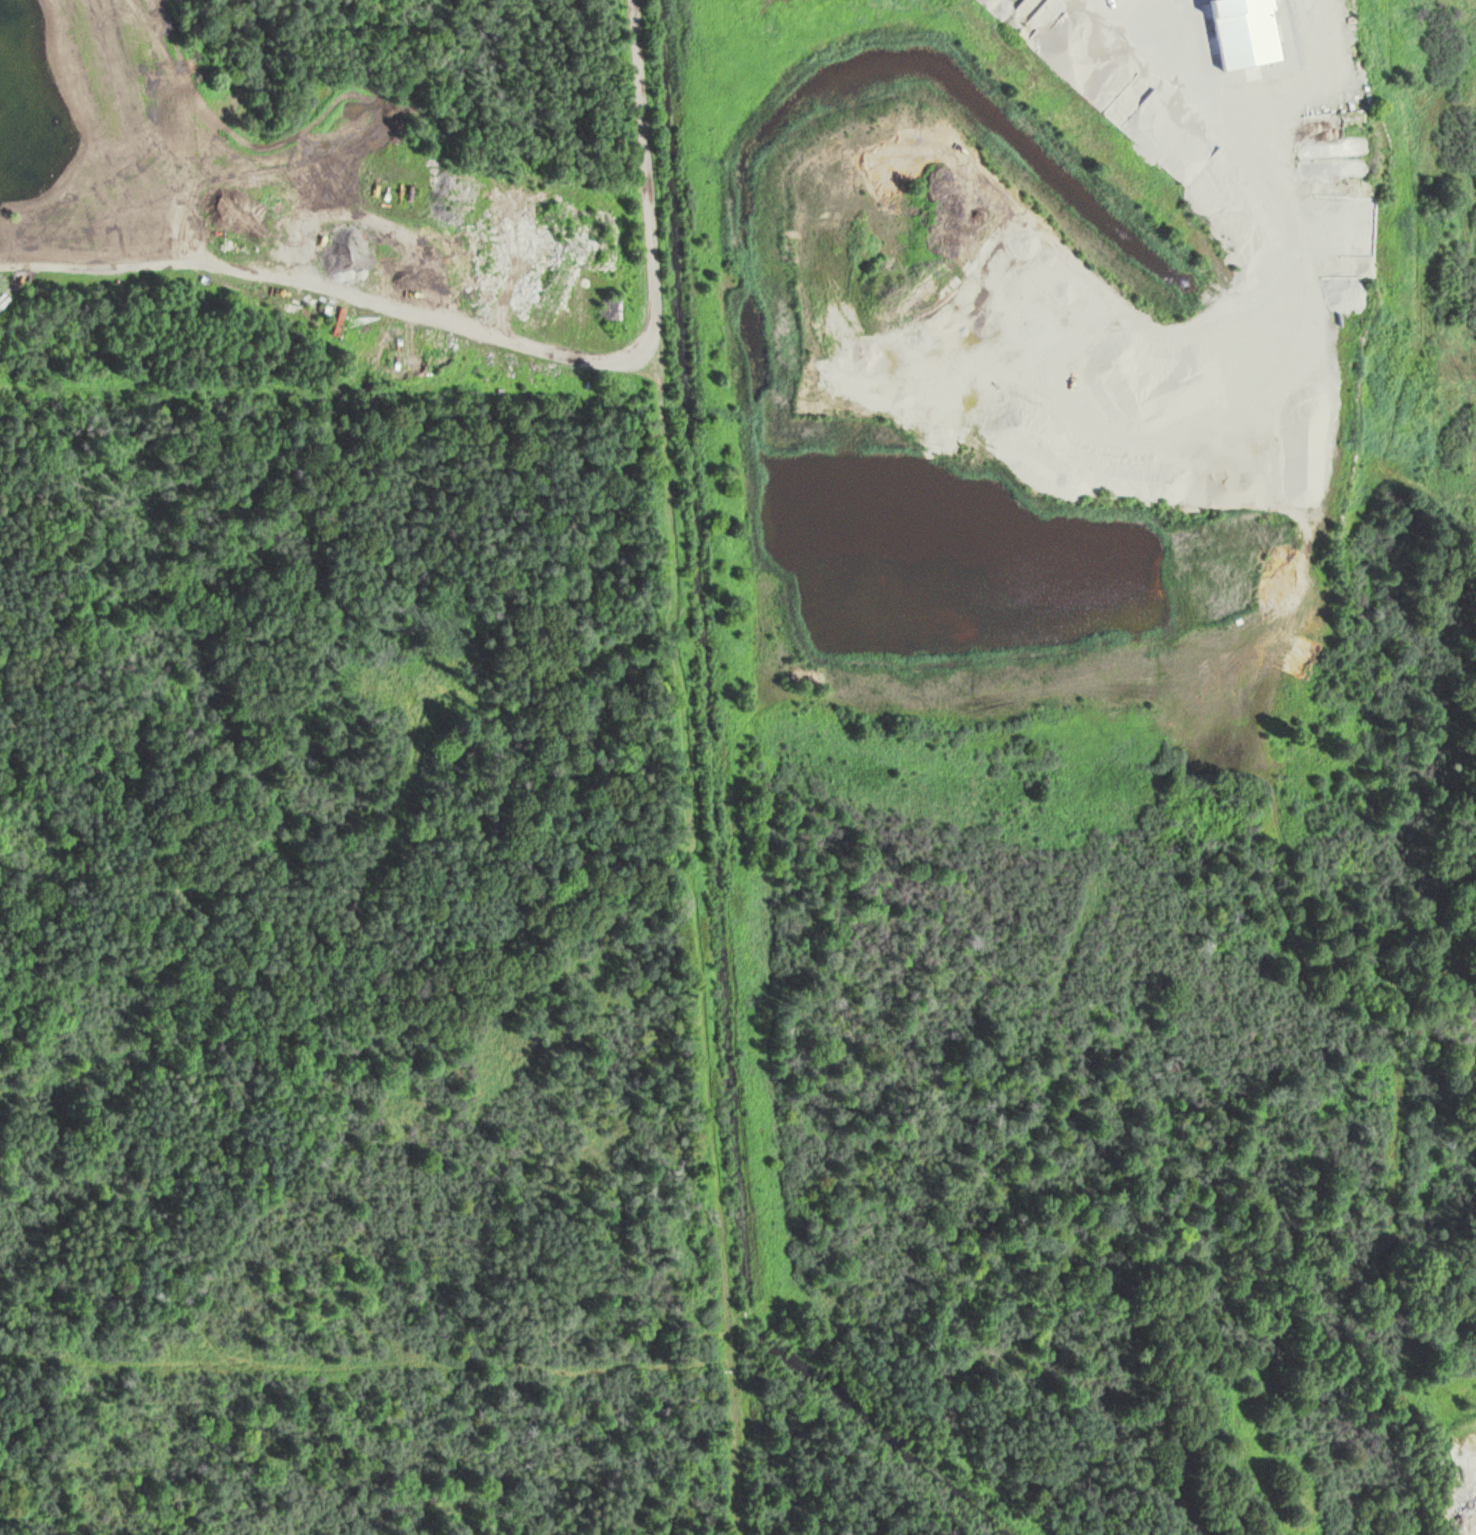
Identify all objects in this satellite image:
building: (1239, 24)
building: (613, 309)
quarry: (1086, 653)
road: (692, 767)

